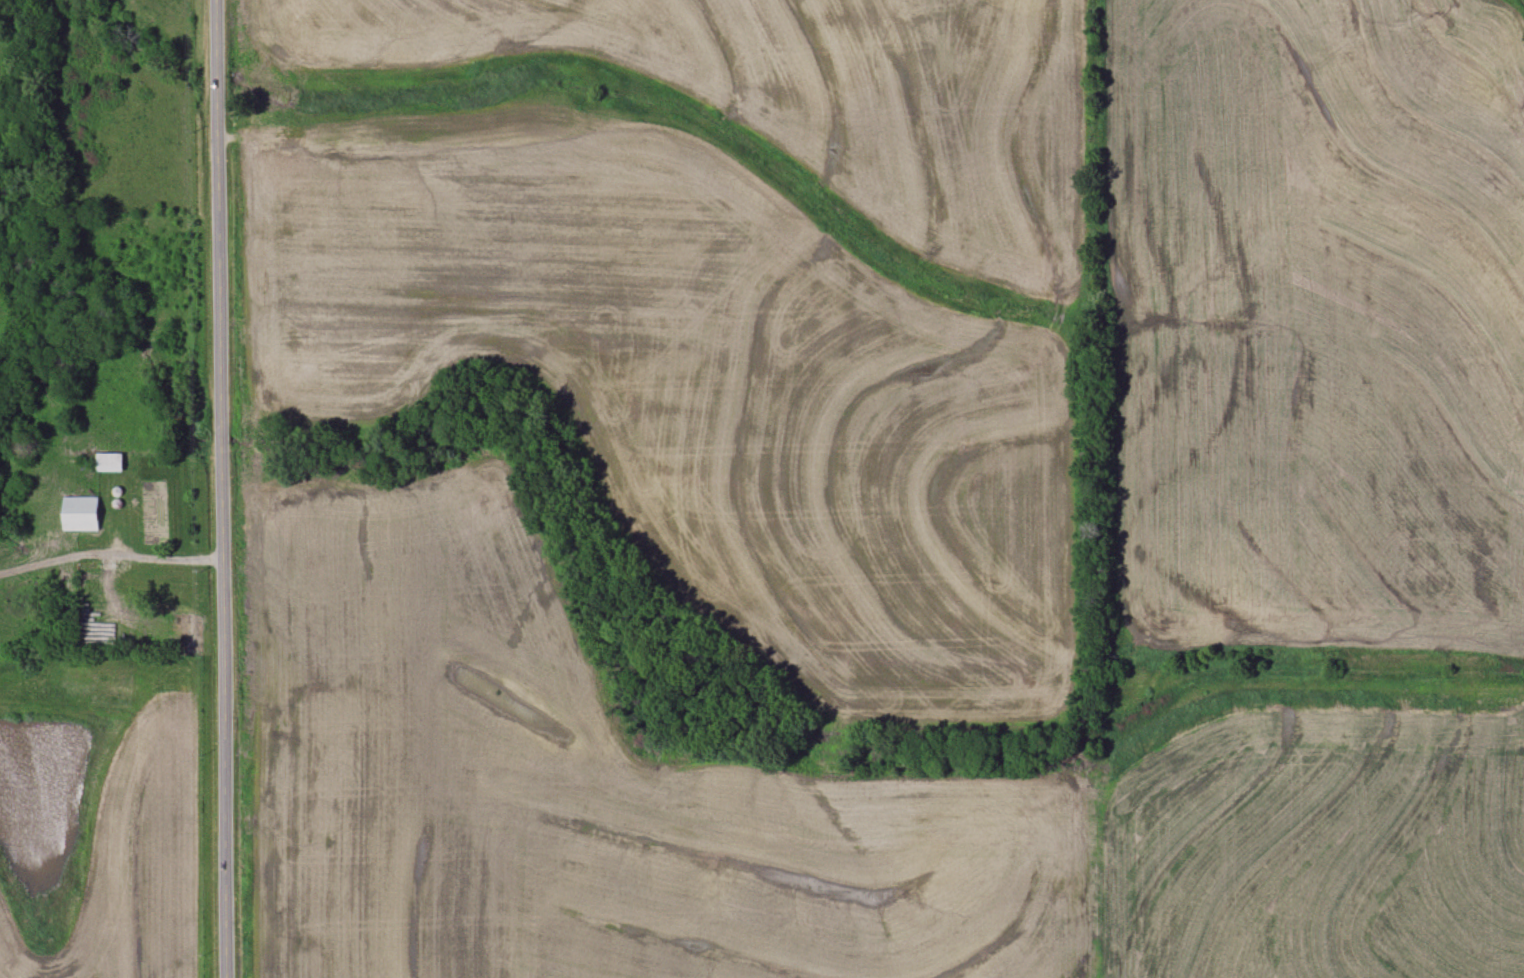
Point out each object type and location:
building: (109, 463)
road: (223, 488)
building: (80, 514)
road: (151, 560)

